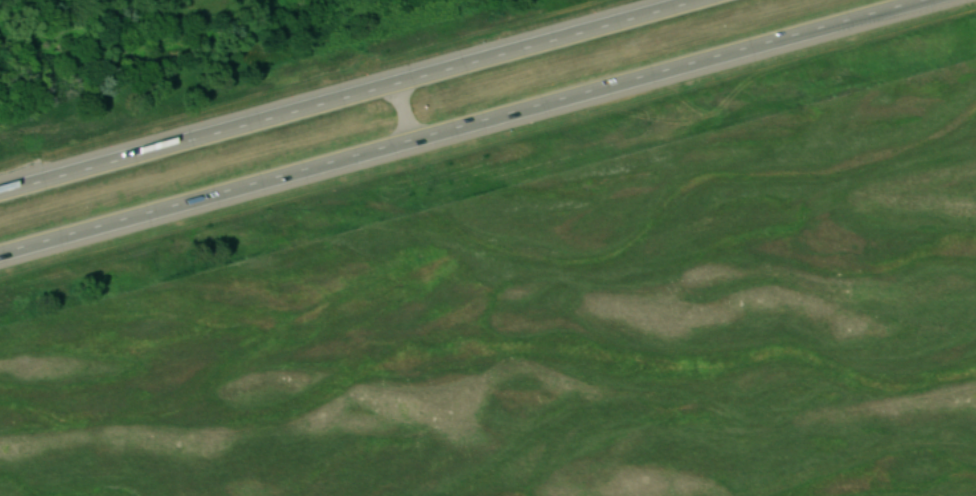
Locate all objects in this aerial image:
road: (357, 97)
road: (401, 117)
road: (470, 129)

